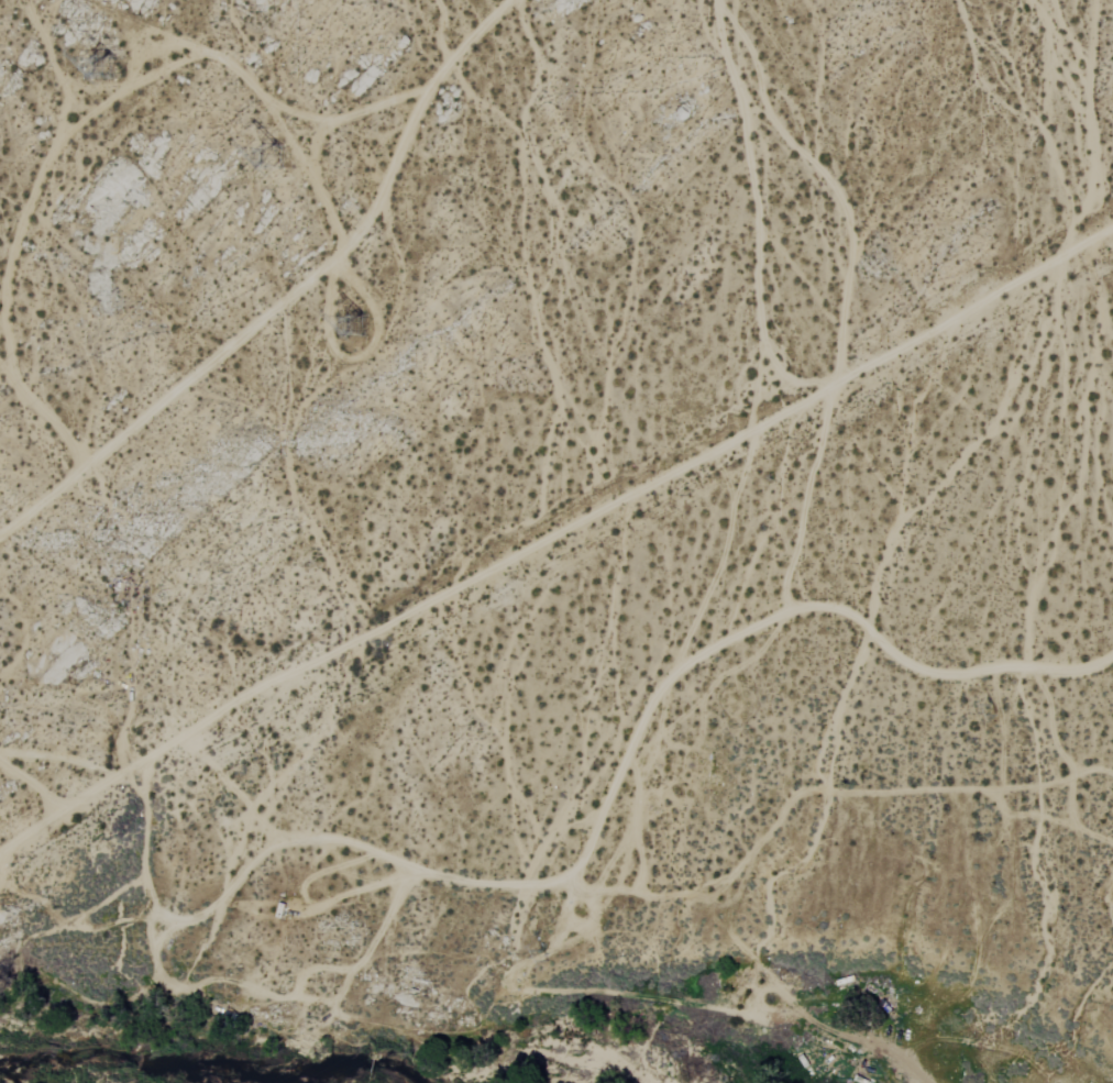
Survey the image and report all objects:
power tower: (117, 59)
power tower: (284, 153)
road: (289, 297)
power tower: (357, 327)
road: (551, 535)
power tower: (985, 708)
road: (32, 785)
power tower: (535, 954)
river: (128, 1065)

